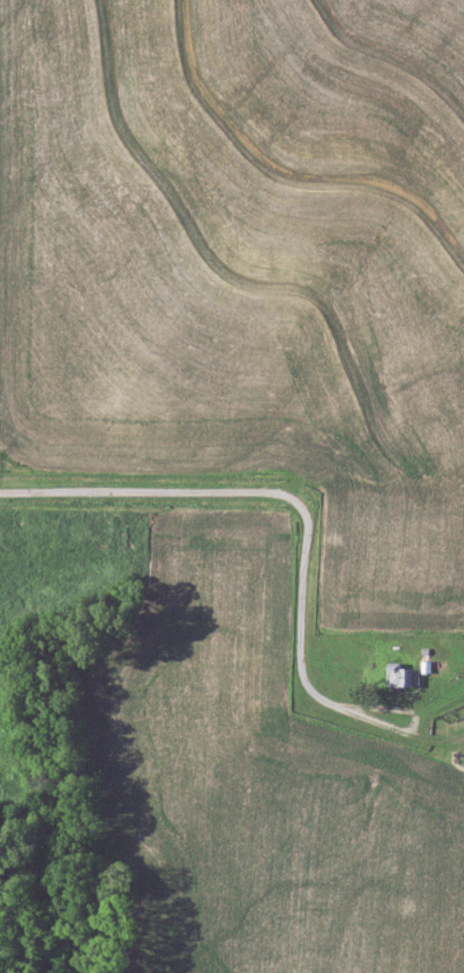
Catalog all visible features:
road: (295, 493)
building: (397, 674)

